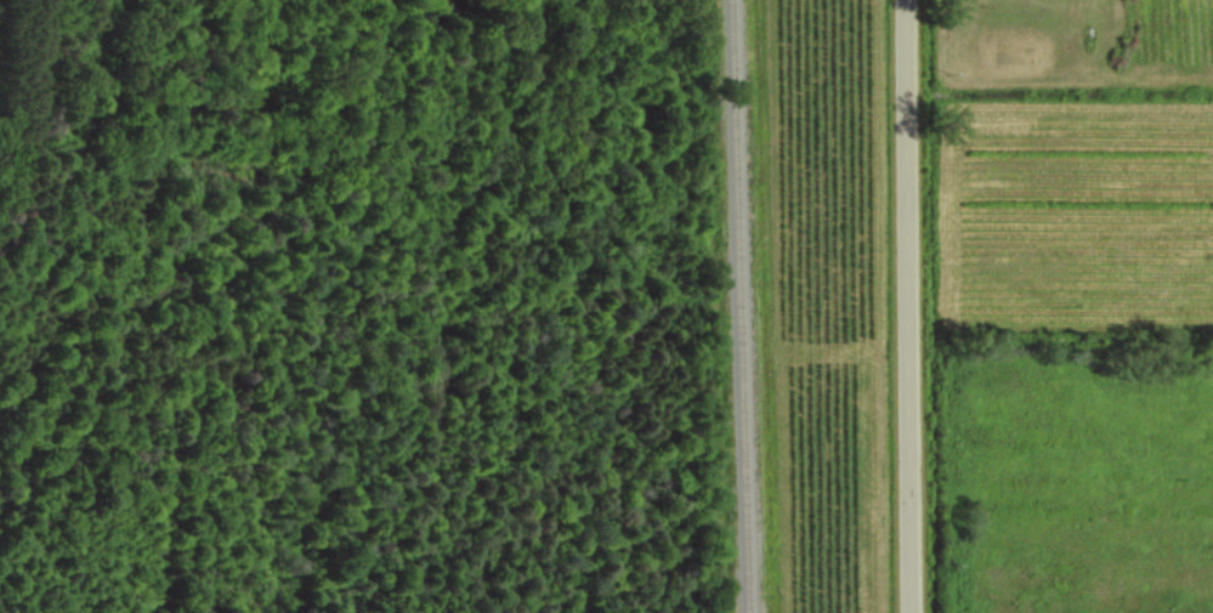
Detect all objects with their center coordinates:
railway: (739, 306)
road: (906, 306)

